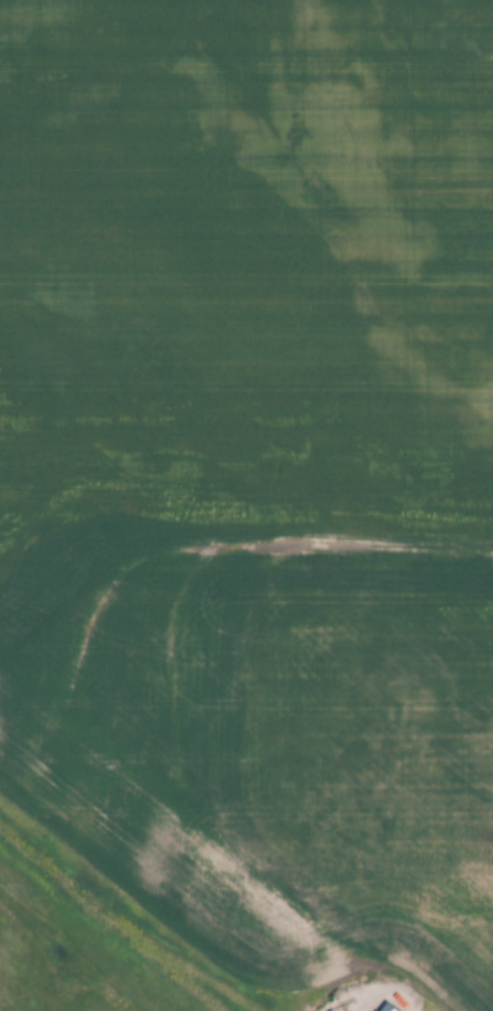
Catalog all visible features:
building: (389, 1007)

